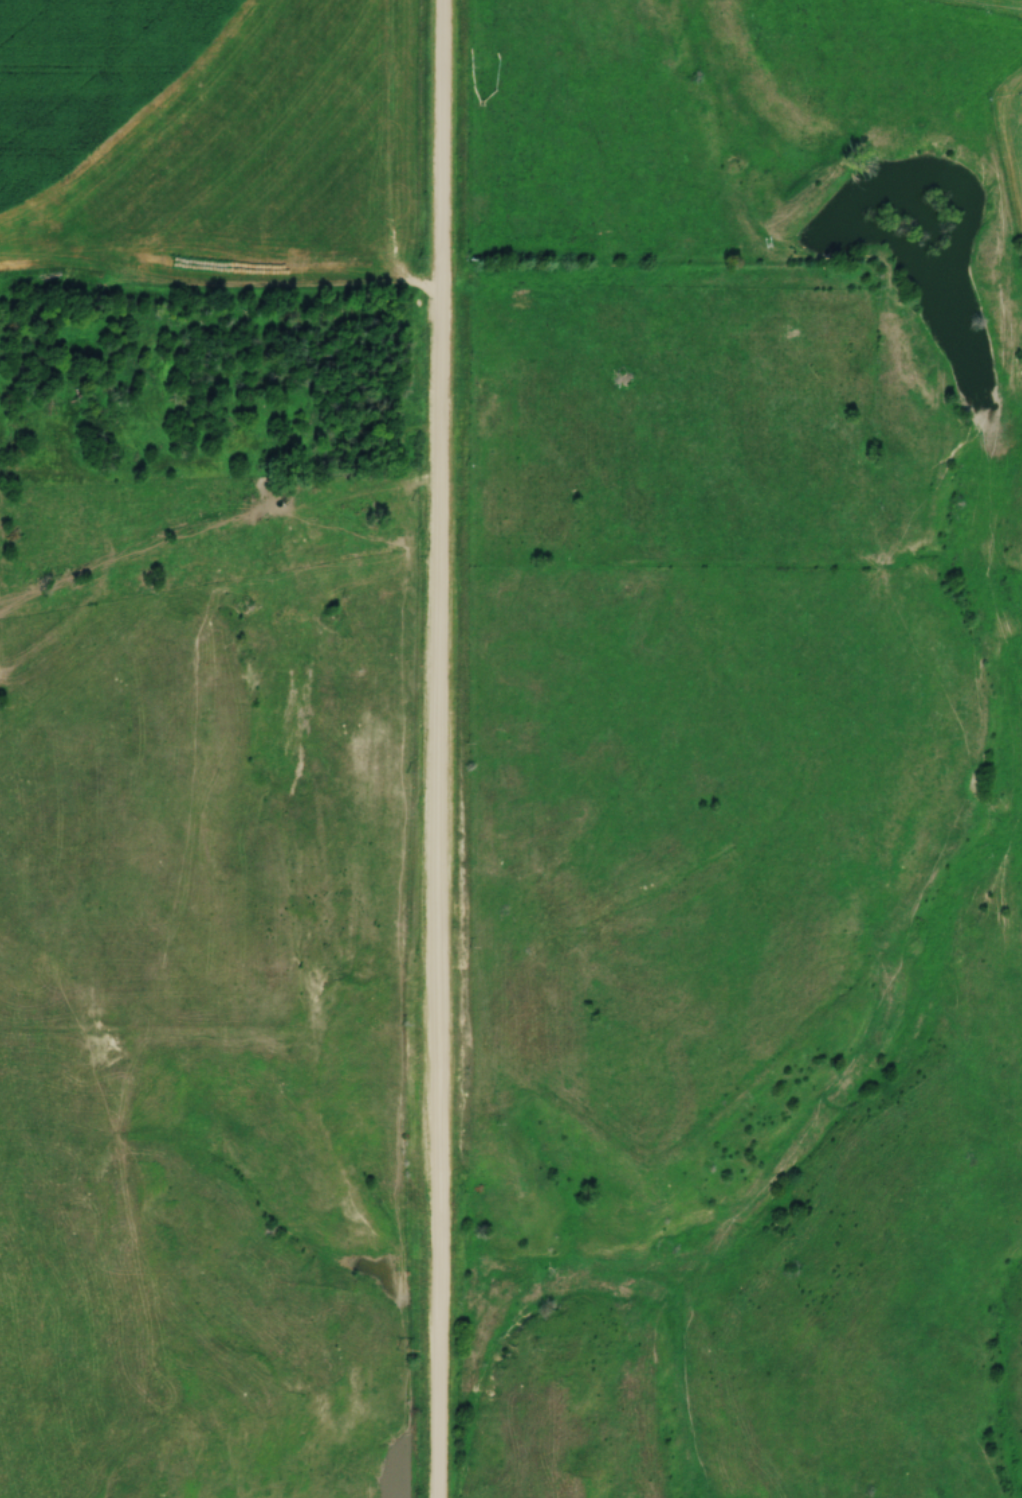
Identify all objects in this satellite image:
road: (438, 748)

